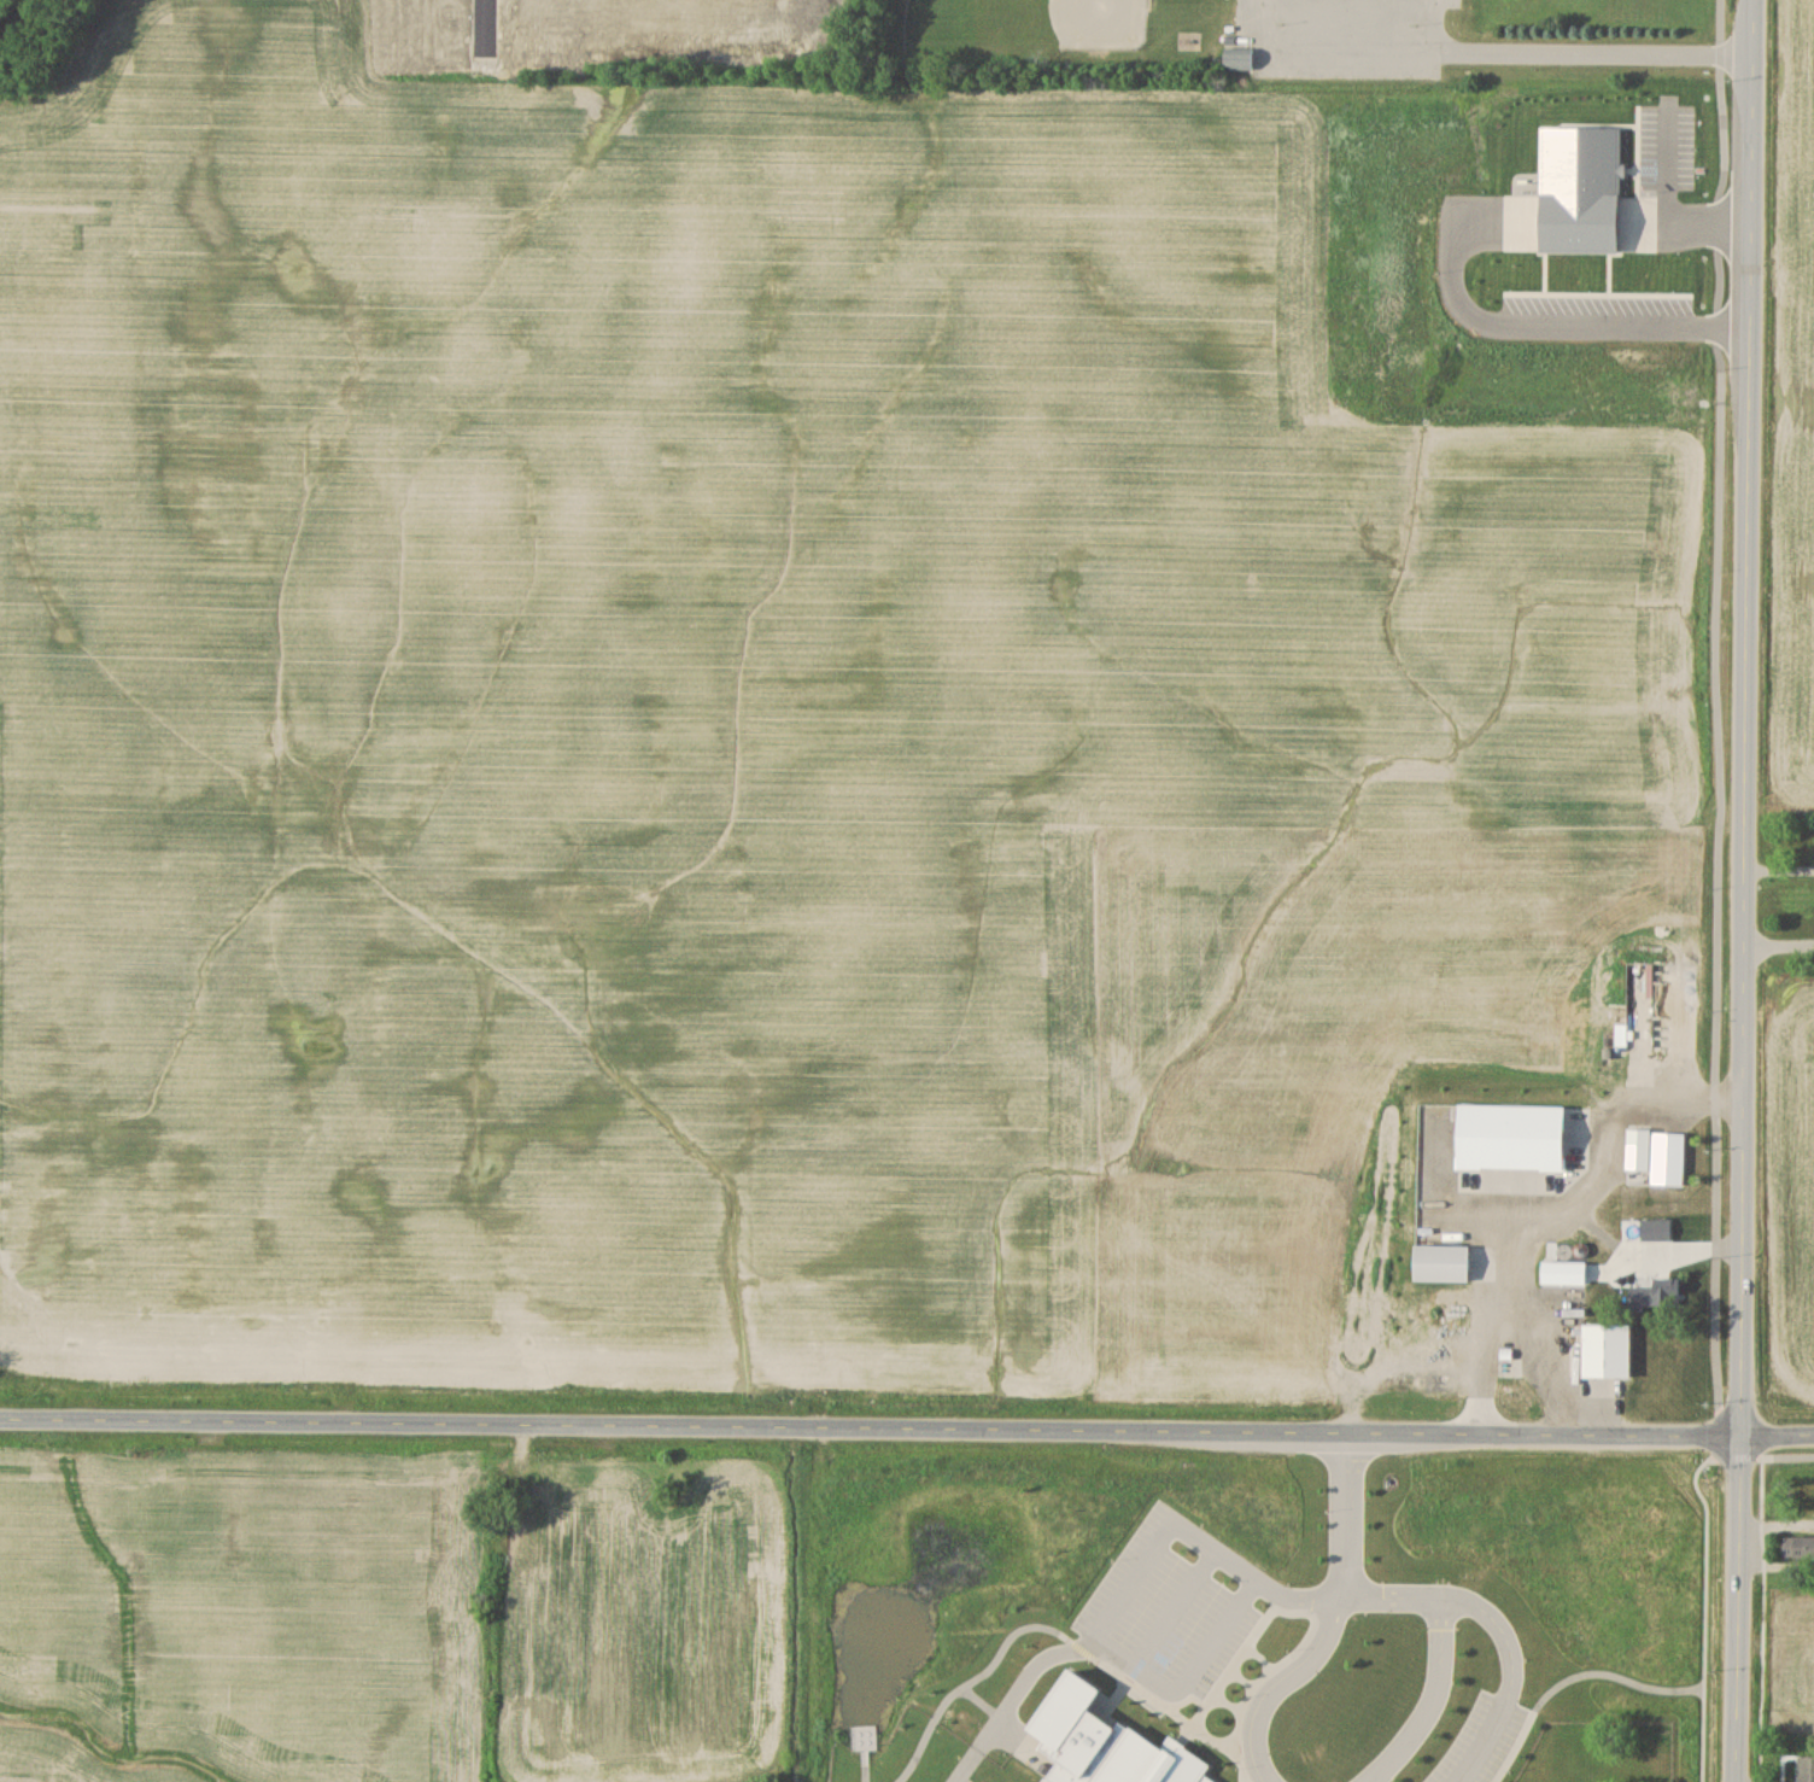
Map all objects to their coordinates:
road: (1432, 24)
road: (1477, 48)
building: (1239, 60)
road: (1668, 215)
road: (1544, 327)
road: (1721, 726)
road: (1780, 849)
road: (1746, 890)
road: (1780, 925)
building: (1563, 1163)
road: (1557, 1215)
building: (1657, 1229)
building: (1443, 1263)
building: (1521, 1266)
building: (1566, 1273)
building: (1657, 1295)
building: (1552, 1301)
building: (1608, 1350)
road: (906, 1426)
road: (1762, 1451)
road: (1342, 1513)
building: (1798, 1546)
road: (1134, 1578)
road: (1254, 1583)
road: (1334, 1593)
road: (1177, 1608)
road: (1705, 1613)
road: (1215, 1637)
road: (1131, 1661)
road: (1286, 1684)
road: (1430, 1698)
road: (1506, 1714)
building: (1806, 1769)

